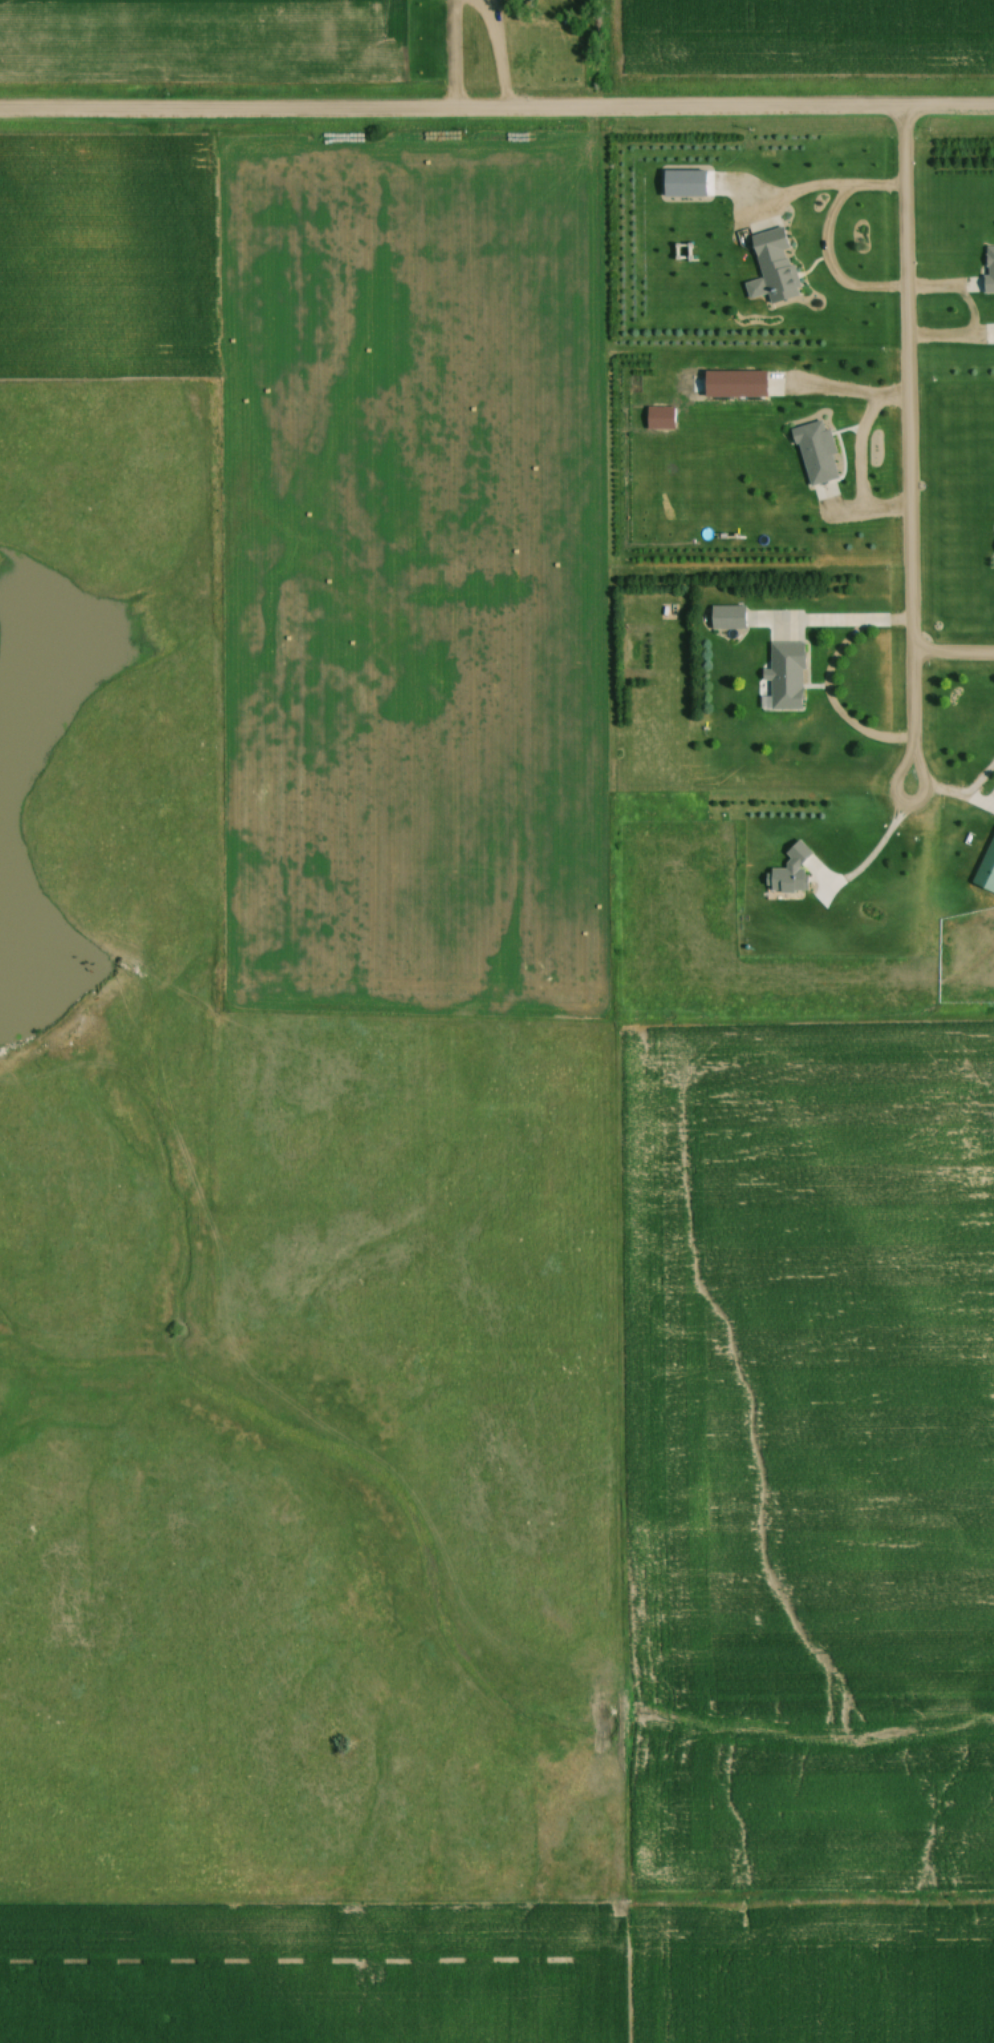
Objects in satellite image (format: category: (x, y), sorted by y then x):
road: (493, 56)
road: (497, 113)
building: (771, 268)
building: (988, 268)
road: (903, 381)
building: (733, 383)
building: (814, 452)
building: (726, 617)
road: (835, 623)
road: (950, 656)
building: (784, 678)
road: (914, 759)
building: (986, 866)
building: (787, 871)

